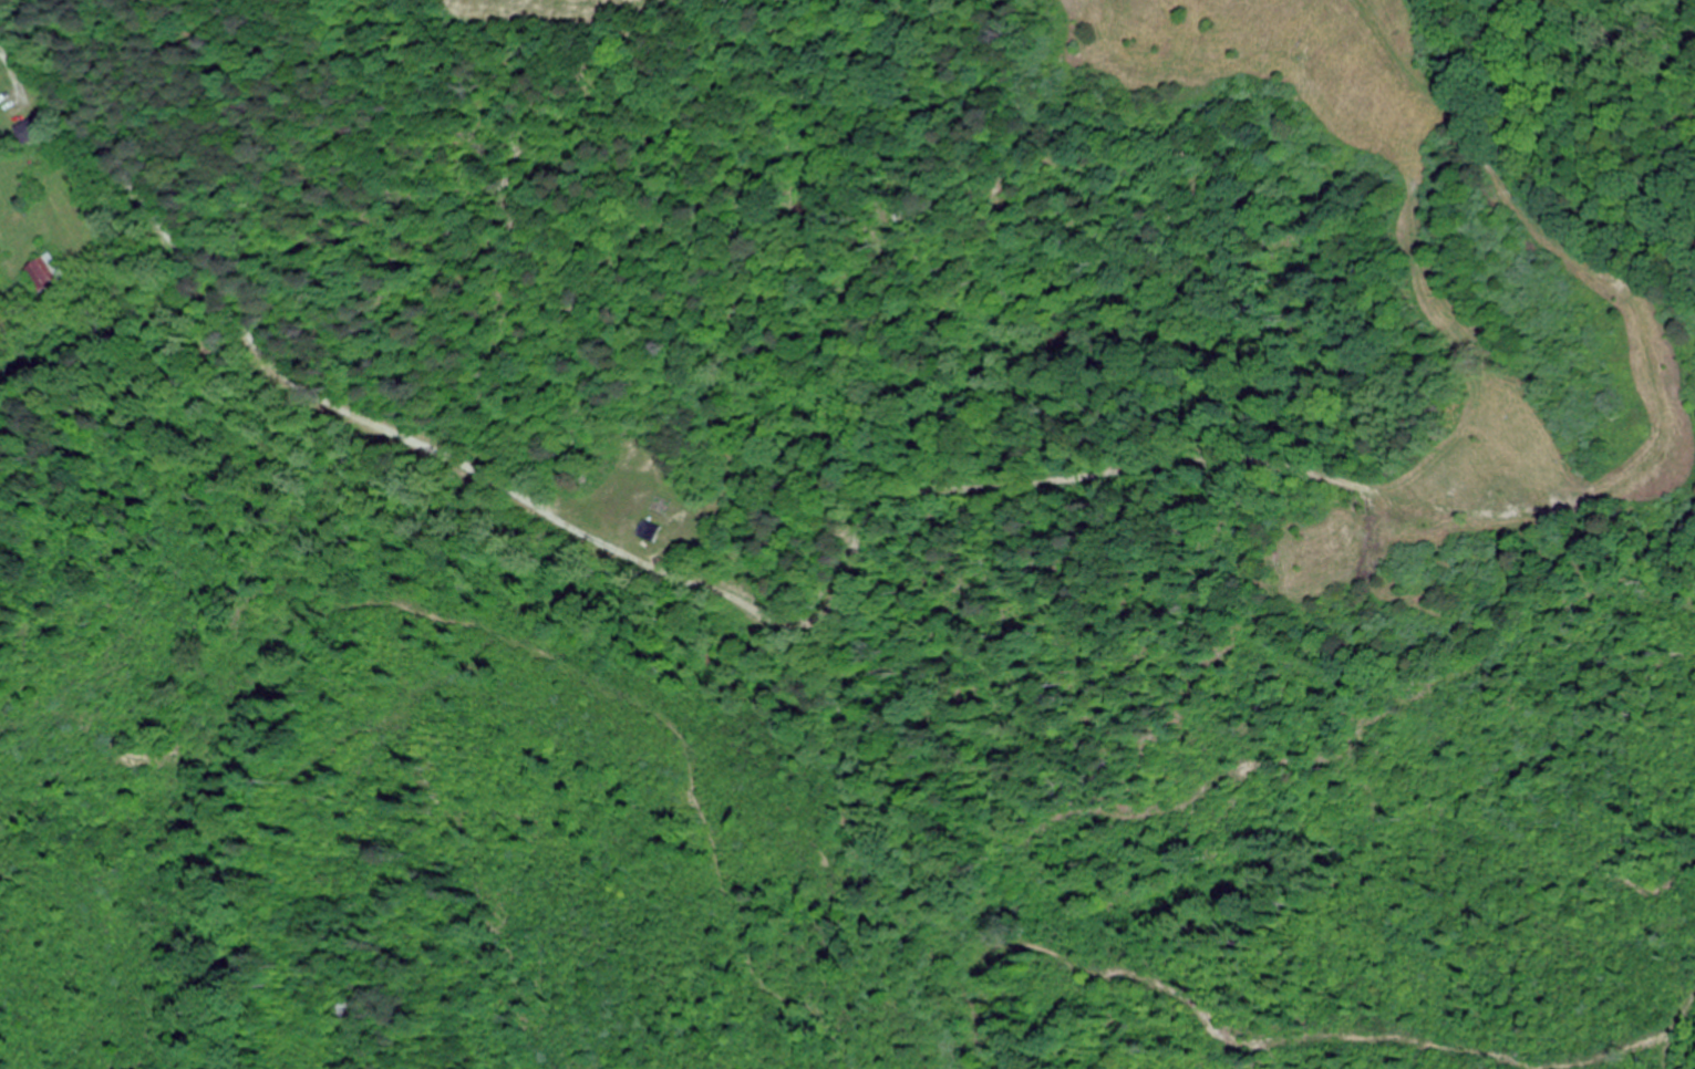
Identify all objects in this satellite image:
road: (8, 71)
building: (44, 273)
building: (4, 328)

